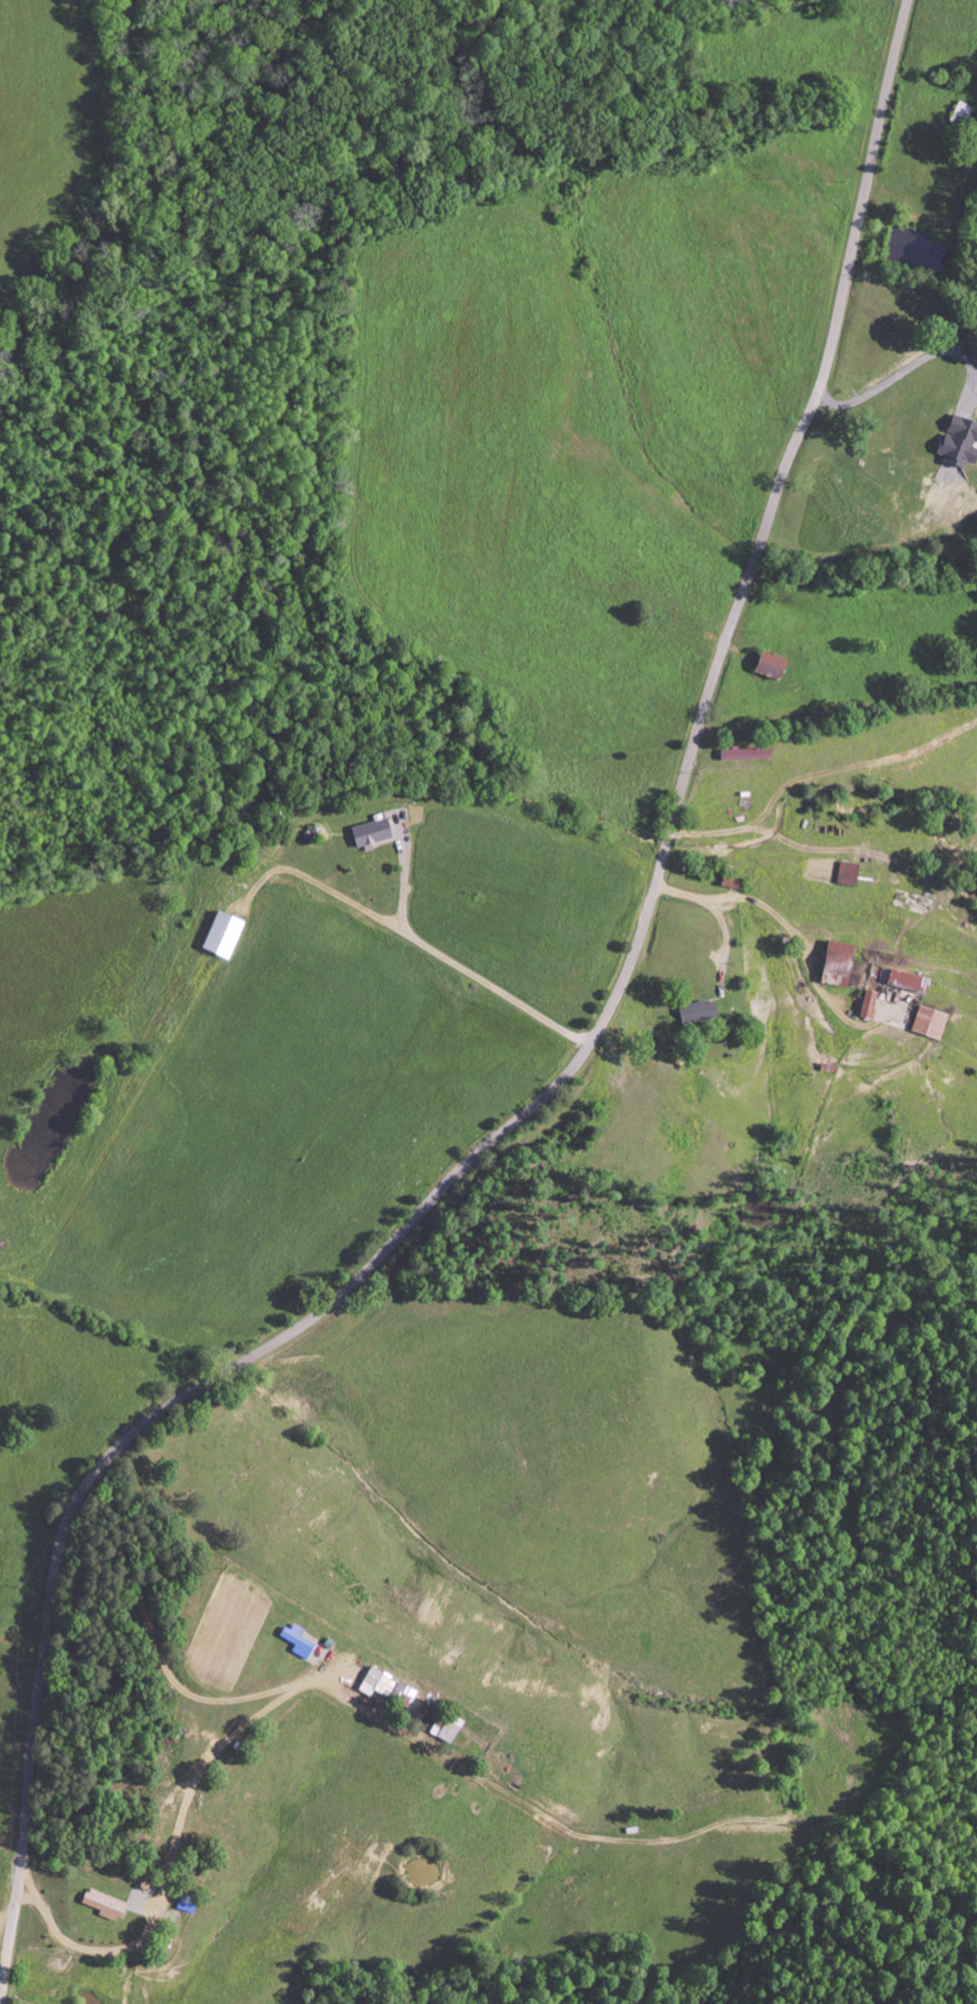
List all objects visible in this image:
building: (961, 442)
building: (775, 667)
building: (748, 755)
building: (373, 833)
building: (851, 874)
building: (839, 964)
building: (910, 982)
building: (875, 1009)
building: (701, 1014)
road: (559, 1080)
building: (301, 1642)
building: (379, 1683)
building: (189, 1904)
building: (108, 1905)

